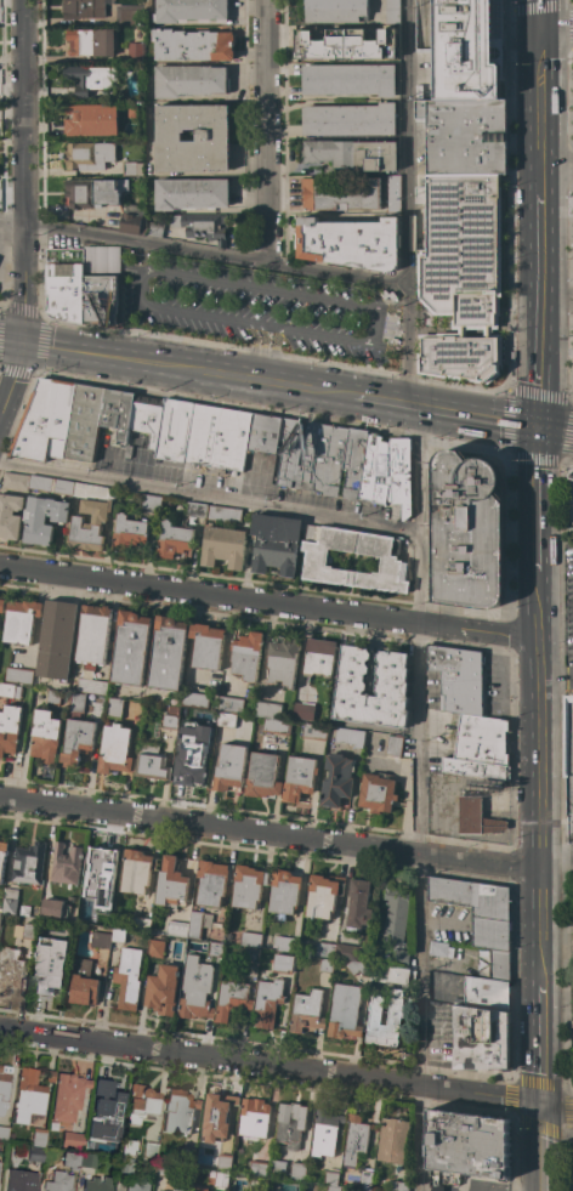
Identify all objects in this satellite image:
building: (81, 8)
building: (187, 10)
building: (335, 11)
building: (391, 11)
road: (538, 12)
building: (129, 15)
traffic signals: (539, 24)
road: (556, 24)
building: (390, 32)
building: (90, 41)
building: (192, 45)
building: (467, 49)
building: (329, 50)
building: (135, 53)
building: (148, 69)
building: (90, 78)
building: (348, 79)
building: (188, 80)
road: (539, 109)
building: (132, 110)
road: (24, 112)
building: (348, 119)
building: (91, 120)
road: (569, 120)
road: (270, 134)
building: (464, 135)
building: (211, 136)
building: (352, 153)
building: (87, 157)
road: (556, 163)
building: (129, 169)
building: (92, 192)
building: (191, 193)
building: (392, 193)
building: (341, 194)
road: (409, 202)
building: (132, 219)
road: (12, 222)
building: (202, 226)
building: (155, 228)
road: (12, 238)
building: (350, 243)
road: (142, 257)
road: (217, 257)
building: (101, 259)
road: (12, 273)
building: (463, 273)
building: (66, 283)
road: (25, 284)
road: (568, 290)
building: (100, 299)
road: (330, 301)
parking lot: (257, 310)
road: (539, 311)
road: (393, 312)
road: (183, 314)
road: (12, 342)
traffic signals: (25, 345)
road: (391, 346)
road: (261, 352)
road: (142, 362)
road: (15, 385)
road: (466, 386)
road: (306, 389)
road: (506, 389)
road: (447, 410)
building: (118, 413)
building: (46, 421)
building: (84, 421)
building: (144, 421)
traffic signals: (539, 427)
building: (174, 430)
road: (556, 430)
building: (263, 432)
building: (217, 437)
building: (345, 463)
building: (15, 480)
building: (51, 484)
road: (538, 497)
road: (211, 499)
building: (569, 499)
building: (151, 503)
building: (195, 510)
building: (223, 514)
building: (10, 515)
building: (42, 518)
building: (98, 518)
building: (467, 531)
building: (129, 532)
building: (174, 540)
building: (274, 543)
building: (223, 546)
building: (317, 558)
road: (268, 602)
road: (538, 602)
building: (1, 605)
parking lot: (567, 607)
building: (21, 620)
building: (92, 634)
building: (56, 639)
building: (206, 646)
building: (130, 648)
building: (166, 653)
building: (245, 656)
building: (318, 658)
road: (538, 659)
building: (282, 662)
building: (18, 675)
building: (458, 679)
road: (551, 681)
road: (568, 681)
building: (371, 685)
building: (91, 686)
building: (10, 690)
building: (52, 696)
building: (194, 699)
building: (75, 702)
building: (229, 704)
building: (114, 708)
building: (171, 709)
building: (267, 710)
building: (302, 711)
building: (226, 720)
building: (169, 722)
building: (276, 726)
building: (8, 728)
building: (314, 731)
building: (44, 736)
building: (350, 736)
building: (482, 739)
building: (76, 741)
building: (393, 745)
building: (114, 749)
building: (191, 760)
building: (151, 764)
building: (568, 765)
building: (475, 767)
building: (229, 769)
building: (262, 775)
building: (299, 778)
building: (336, 781)
building: (376, 793)
road: (420, 798)
building: (476, 817)
road: (268, 834)
building: (2, 855)
road: (556, 860)
building: (27, 863)
building: (64, 863)
building: (136, 870)
building: (102, 881)
building: (211, 881)
building: (170, 883)
building: (248, 886)
building: (284, 891)
building: (323, 895)
building: (10, 901)
building: (358, 906)
building: (52, 908)
building: (477, 908)
building: (28, 911)
building: (83, 915)
building: (395, 915)
building: (198, 923)
building: (138, 924)
building: (176, 929)
building: (24, 930)
building: (117, 935)
road: (538, 935)
building: (248, 938)
building: (98, 940)
building: (283, 943)
building: (437, 948)
building: (154, 949)
building: (215, 949)
building: (324, 949)
building: (250, 955)
building: (401, 958)
building: (351, 959)
building: (282, 963)
building: (499, 964)
building: (49, 965)
building: (324, 965)
building: (10, 971)
building: (393, 974)
building: (126, 977)
building: (83, 983)
building: (195, 989)
building: (161, 991)
building: (484, 993)
building: (231, 999)
building: (266, 1003)
building: (306, 1011)
building: (344, 1011)
building: (392, 1020)
building: (481, 1038)
road: (286, 1068)
building: (50, 1076)
building: (4, 1085)
building: (28, 1096)
building: (68, 1096)
building: (141, 1101)
traffic signals: (538, 1106)
building: (103, 1111)
building: (178, 1111)
building: (215, 1118)
building: (253, 1121)
building: (290, 1124)
building: (4, 1132)
building: (324, 1133)
building: (39, 1136)
building: (72, 1139)
building: (354, 1139)
building: (391, 1139)
building: (467, 1144)
building: (110, 1147)
building: (149, 1149)
building: (35, 1153)
building: (126, 1156)
building: (225, 1157)
building: (70, 1159)
building: (89, 1159)
building: (259, 1163)
building: (277, 1168)
building: (161, 1169)
building: (297, 1170)
building: (217, 1178)
building: (330, 1178)
building: (22, 1180)
building: (364, 1180)
building: (59, 1181)
building: (257, 1181)
building: (97, 1184)
building: (137, 1185)
building: (397, 1185)
road: (501, 1186)
building: (572, 1186)
building: (176, 1187)
building: (333, 1187)
road: (464, 1187)
building: (199, 1189)
building: (234, 1190)

